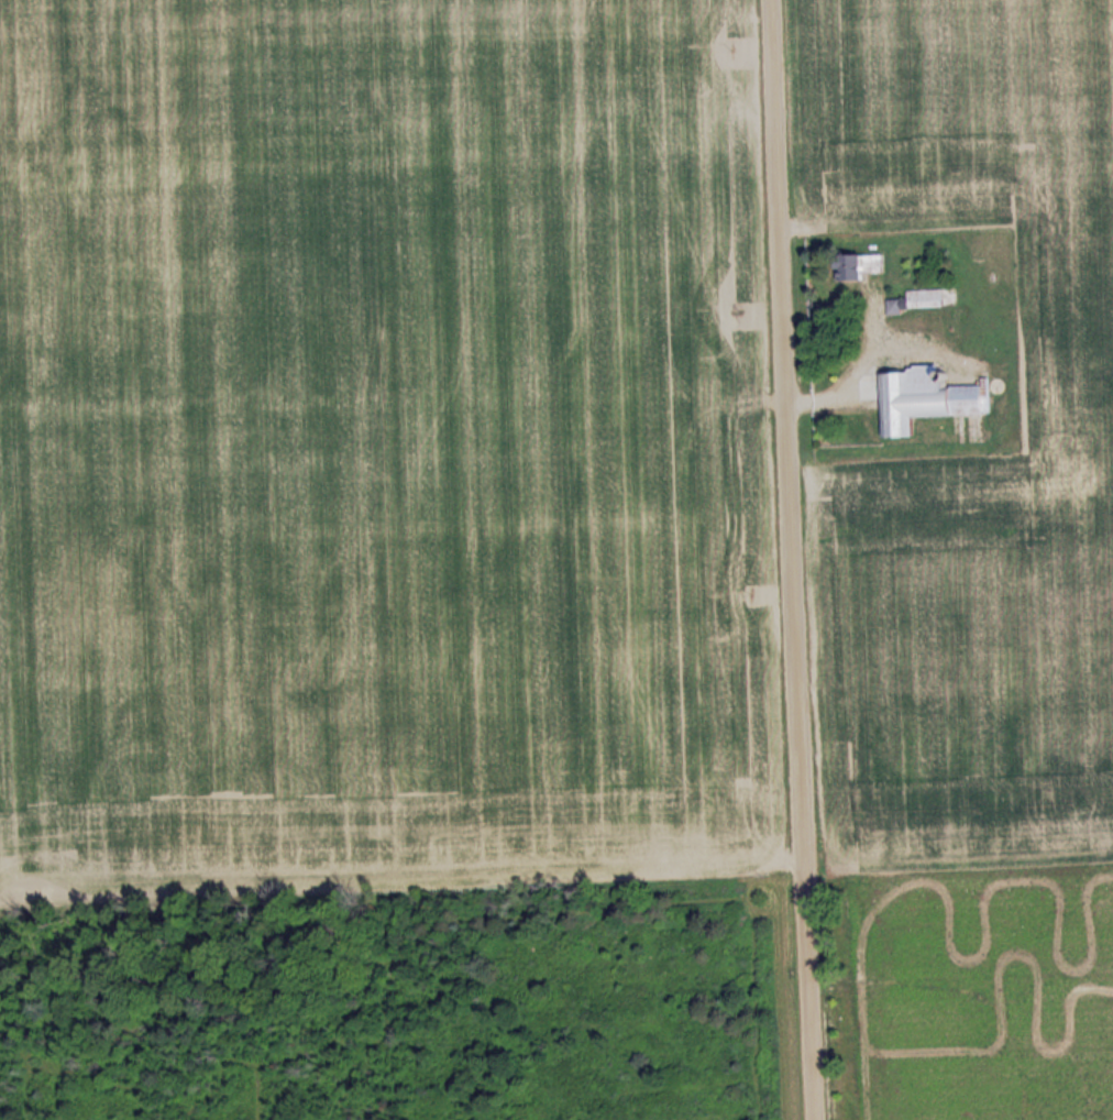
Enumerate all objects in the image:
building: (860, 266)
building: (928, 398)
road: (790, 560)

